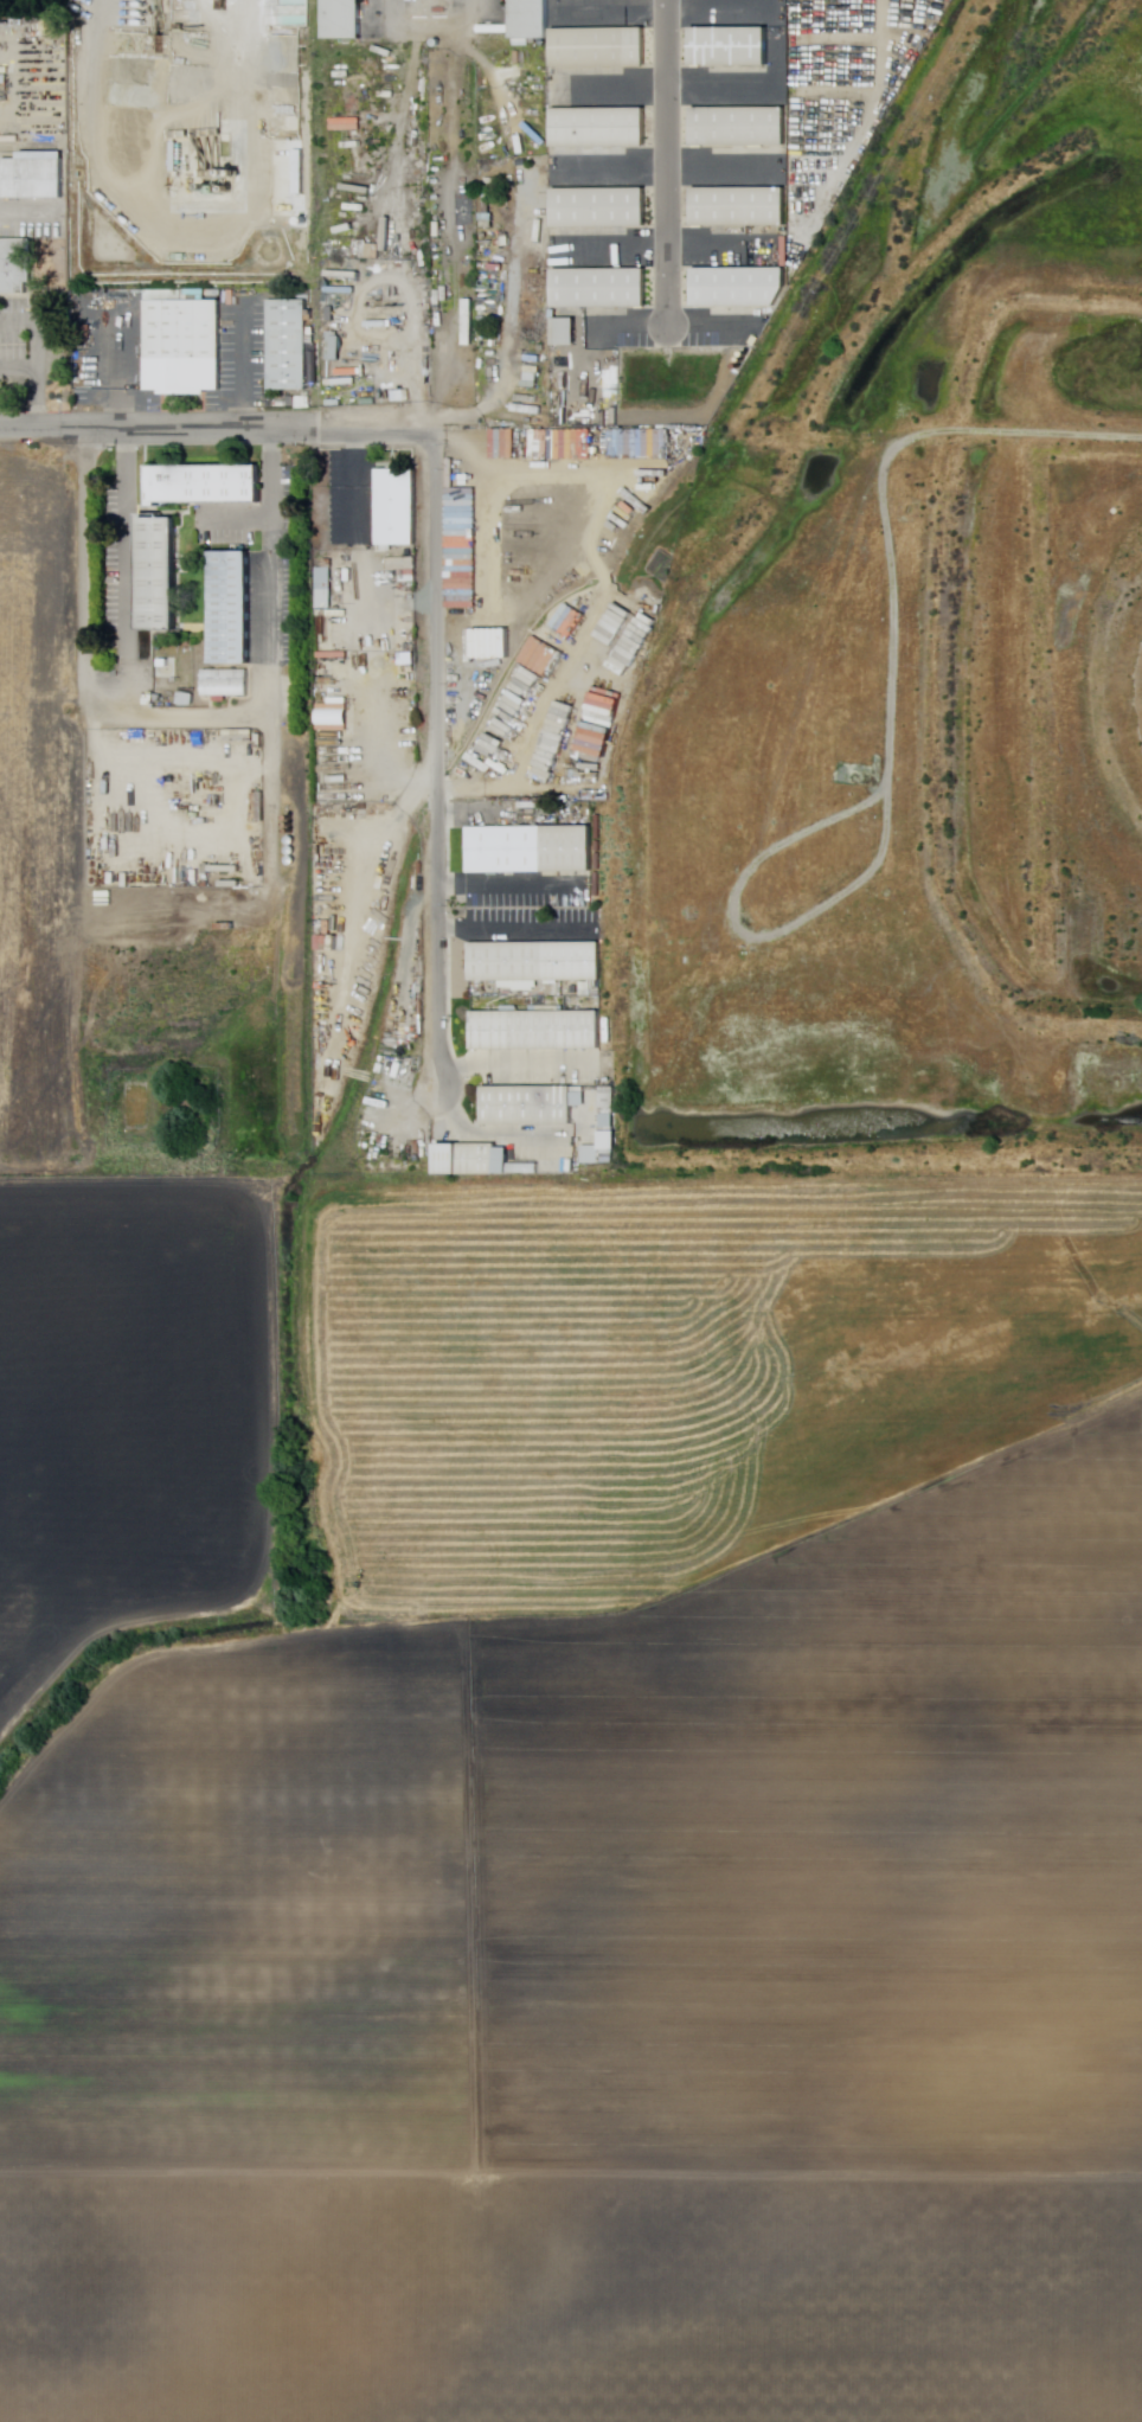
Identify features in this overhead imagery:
road: (669, 4)
building: (345, 19)
building: (533, 19)
road: (429, 27)
building: (734, 45)
building: (602, 47)
road: (668, 83)
building: (347, 124)
building: (603, 127)
building: (744, 127)
road: (665, 162)
road: (669, 168)
building: (37, 177)
building: (488, 191)
building: (604, 207)
building: (743, 207)
building: (488, 217)
road: (665, 245)
building: (17, 267)
building: (345, 275)
building: (743, 287)
building: (604, 288)
building: (443, 296)
building: (469, 322)
building: (386, 323)
building: (440, 325)
building: (567, 332)
building: (186, 346)
building: (290, 346)
building: (335, 347)
storage tank: (755, 355)
road: (37, 357)
storage tank: (751, 361)
road: (19, 367)
storage tank: (748, 367)
road: (238, 370)
road: (116, 378)
building: (406, 396)
road: (218, 431)
building: (208, 486)
building: (400, 507)
building: (403, 564)
building: (161, 574)
building: (326, 585)
building: (235, 609)
building: (633, 633)
building: (166, 659)
building: (227, 684)
road: (193, 715)
building: (239, 736)
road: (438, 767)
building: (340, 780)
building: (263, 807)
storage tank: (296, 820)
storage tank: (296, 827)
storage tank: (296, 834)
storage tank: (294, 842)
building: (533, 851)
storage tank: (294, 852)
storage tank: (294, 863)
building: (539, 963)
building: (540, 1032)
building: (583, 1101)
building: (611, 1102)
building: (530, 1108)
building: (611, 1122)
building: (602, 1156)
building: (477, 1161)
building: (530, 1171)
crop: (680, 1370)
crop: (133, 1415)
crop: (603, 2000)

